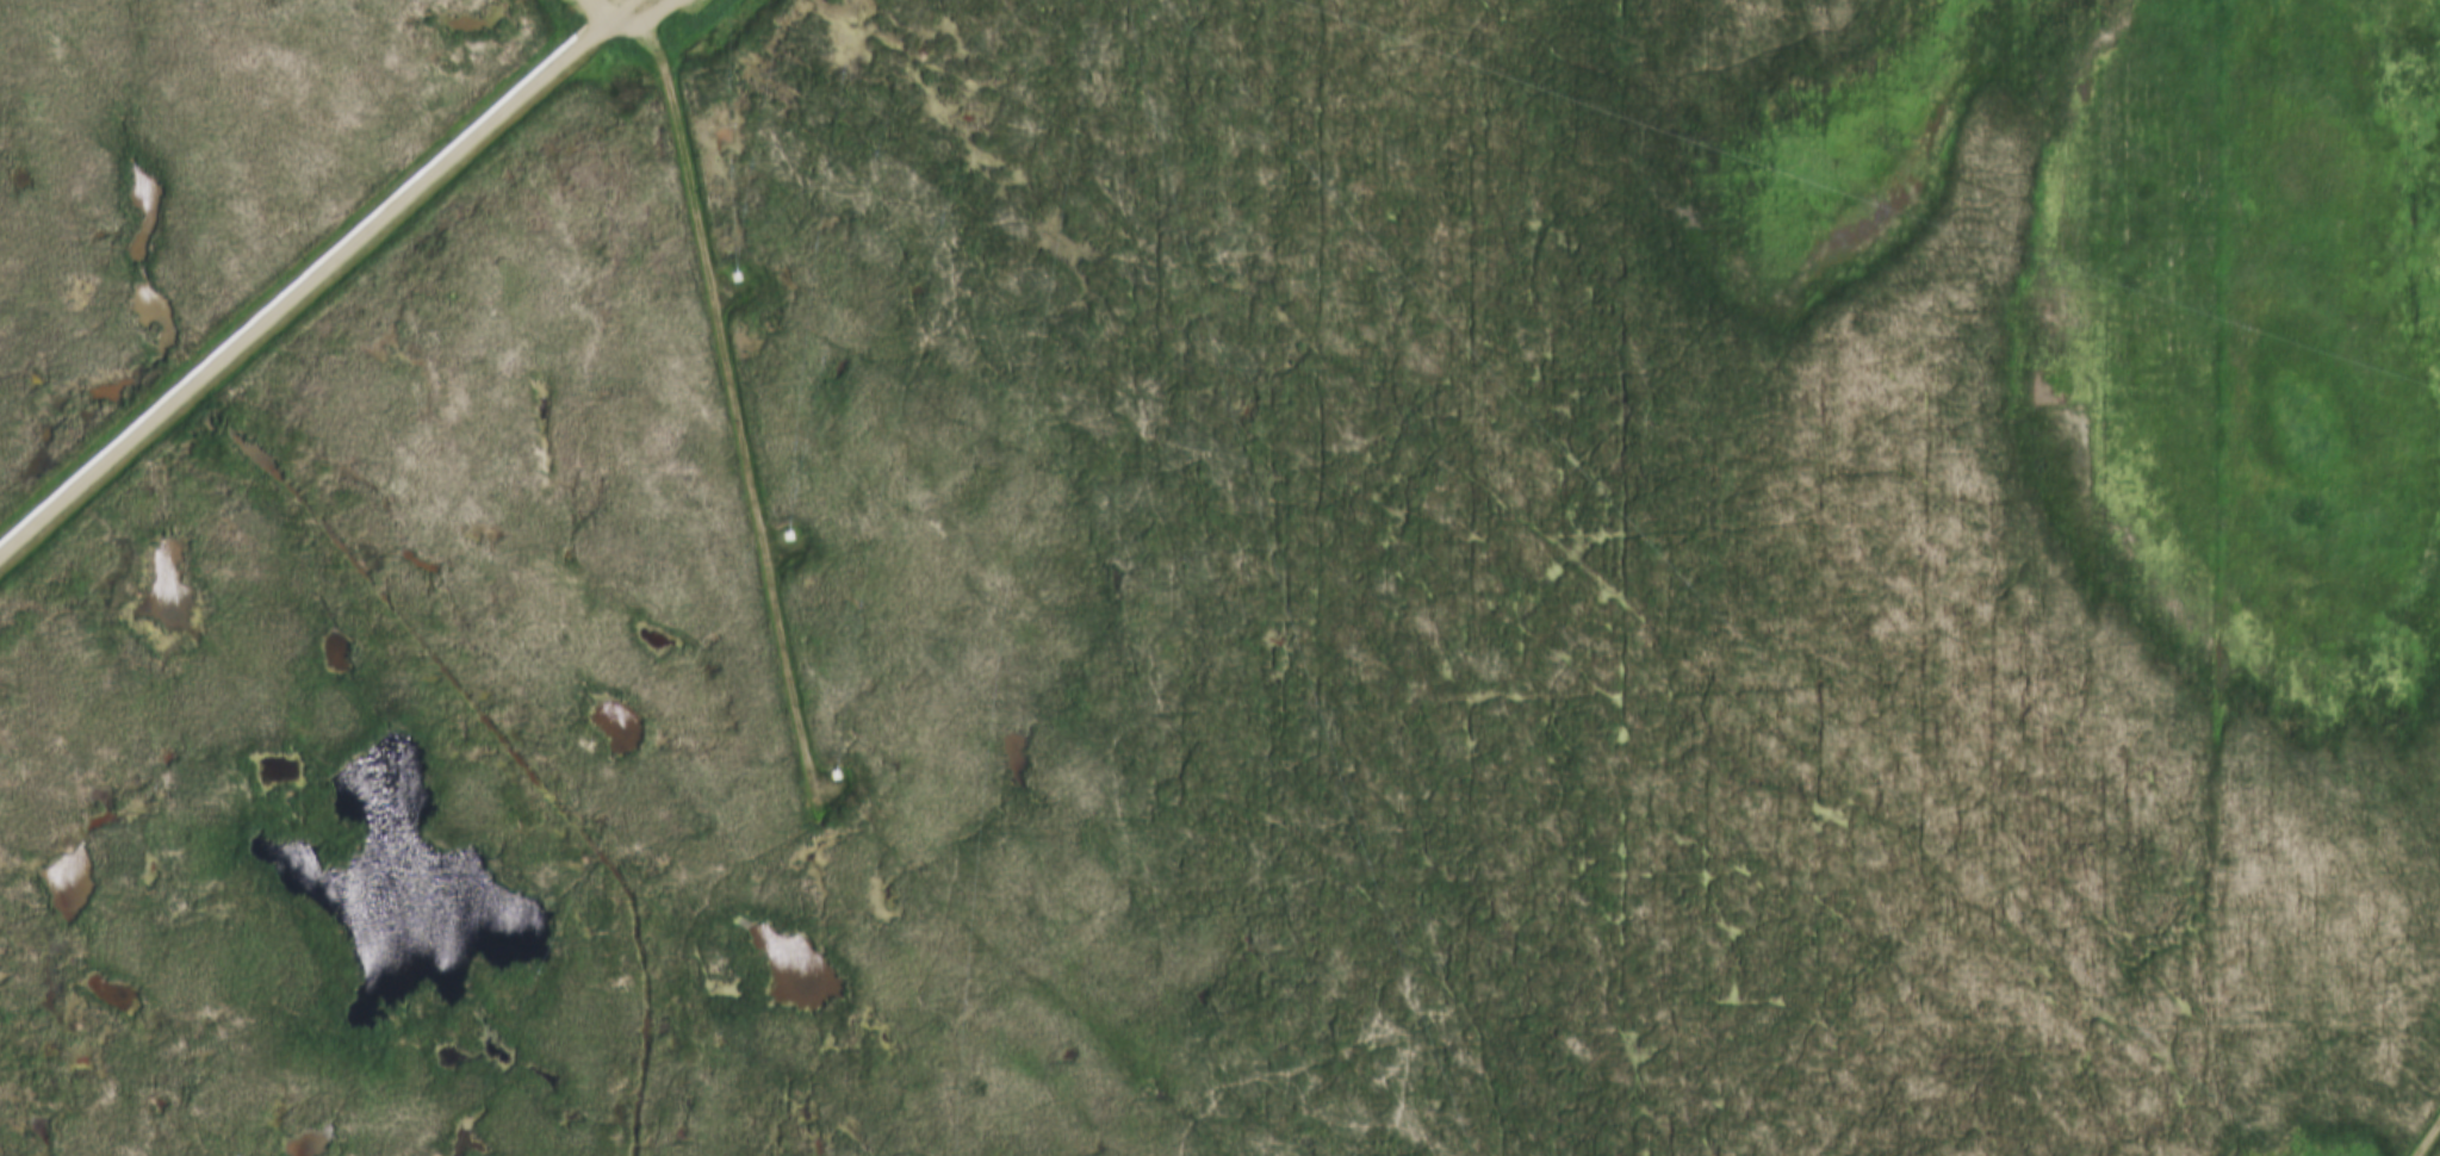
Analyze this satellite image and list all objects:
road: (615, 2)
road: (620, 2)
road: (306, 282)
road: (724, 397)
road: (2433, 1145)

